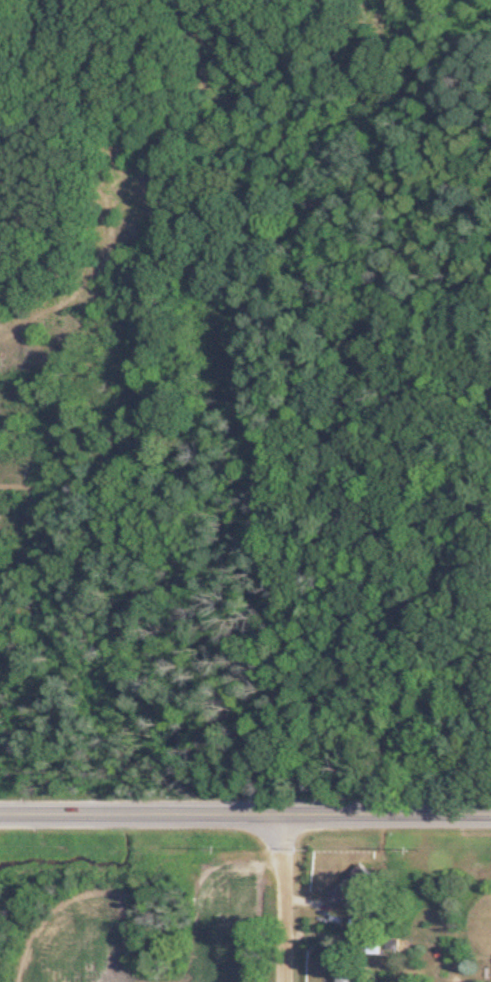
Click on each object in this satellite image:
road: (245, 817)
road: (276, 899)
building: (349, 978)

